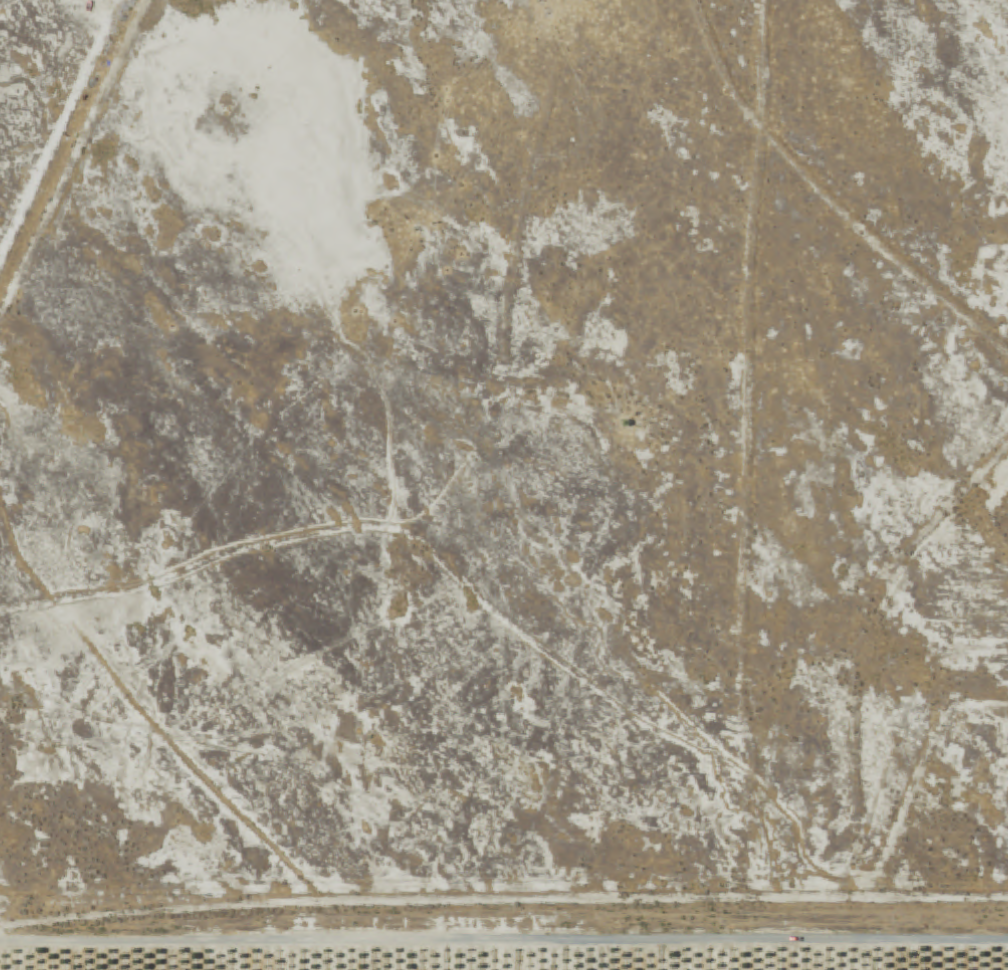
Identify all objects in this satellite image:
road: (504, 942)

